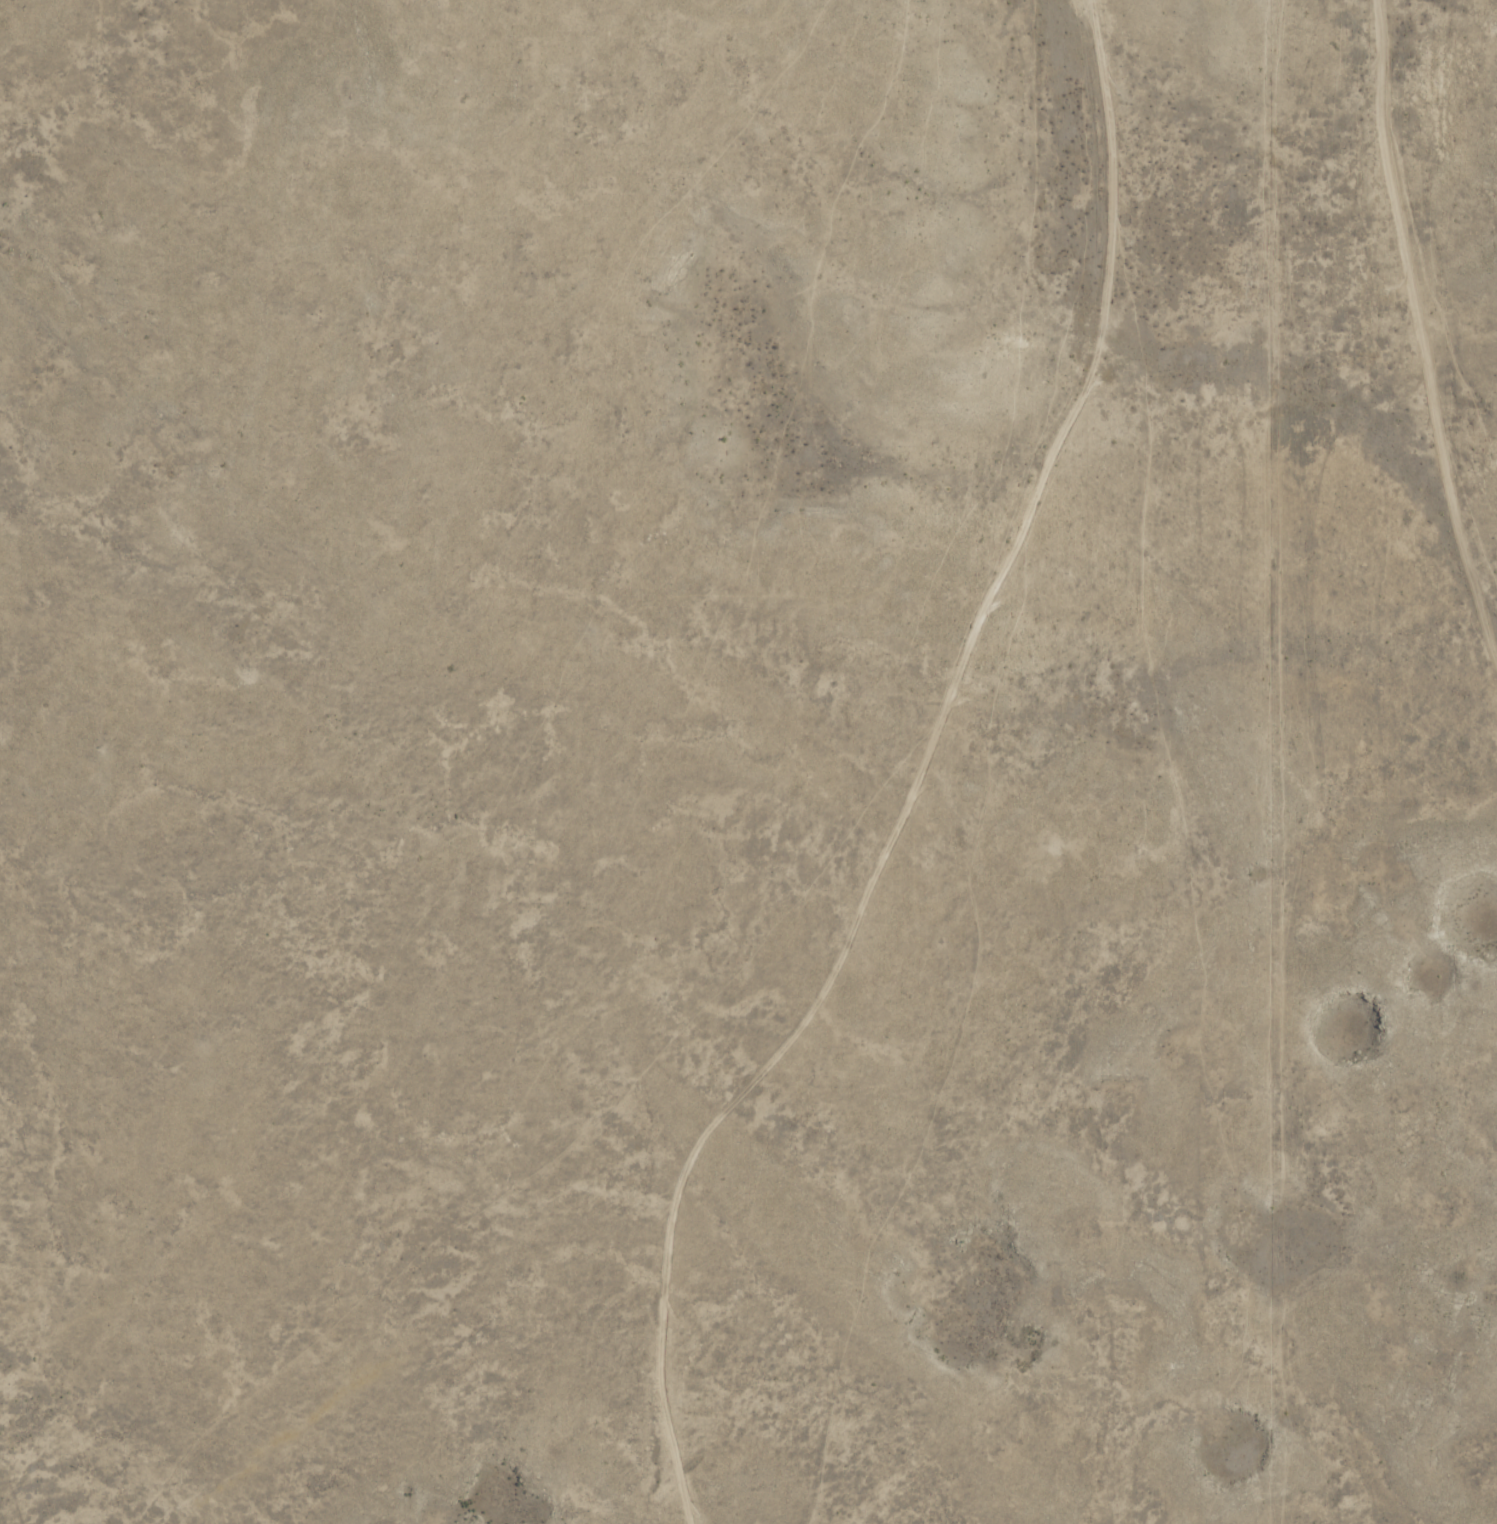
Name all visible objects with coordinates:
road: (1417, 337)
road: (917, 775)

